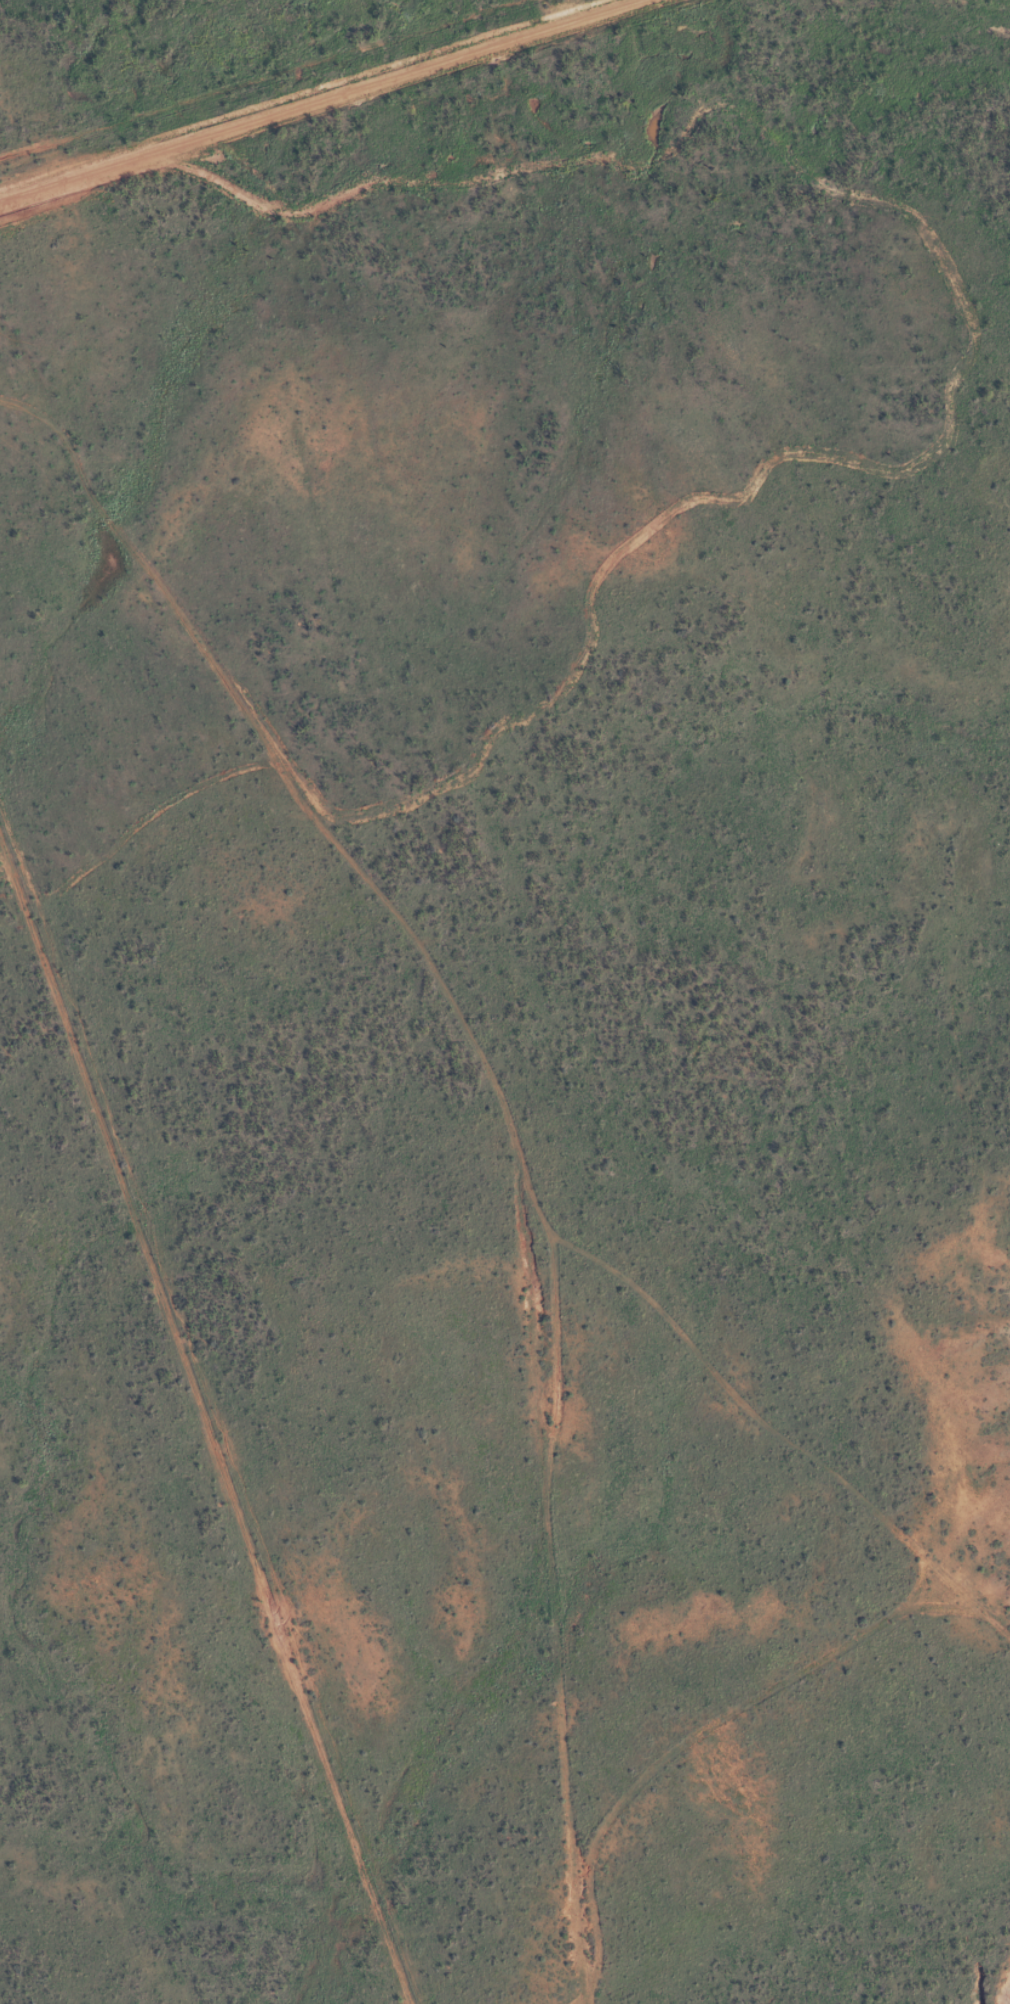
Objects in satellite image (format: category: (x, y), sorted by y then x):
road: (349, 111)
road: (487, 1102)

